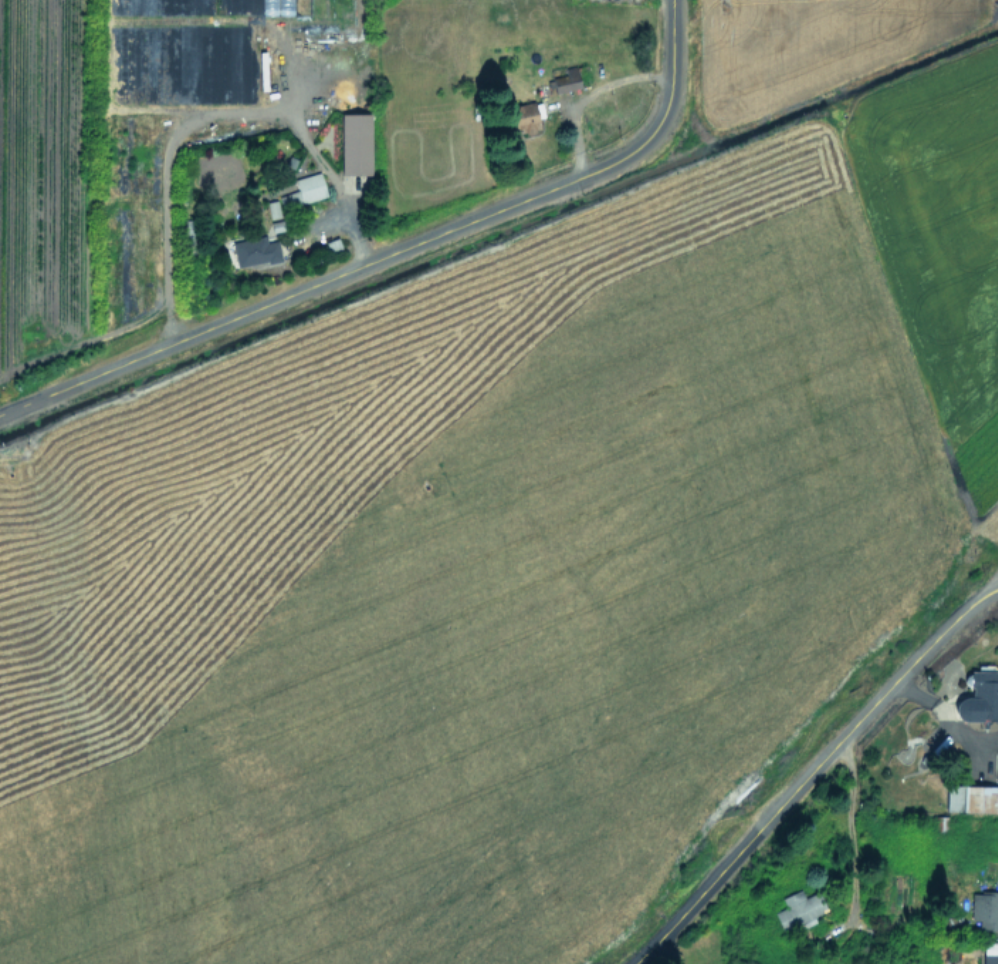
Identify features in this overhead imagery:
building: (564, 81)
road: (208, 114)
building: (525, 117)
crop: (247, 119)
building: (354, 143)
building: (303, 190)
building: (272, 209)
building: (254, 251)
road: (392, 253)
crop: (514, 536)
building: (979, 697)
road: (811, 771)
building: (973, 796)
road: (855, 828)
building: (985, 909)
building: (798, 910)
road: (672, 945)
building: (989, 952)
building: (839, 963)

